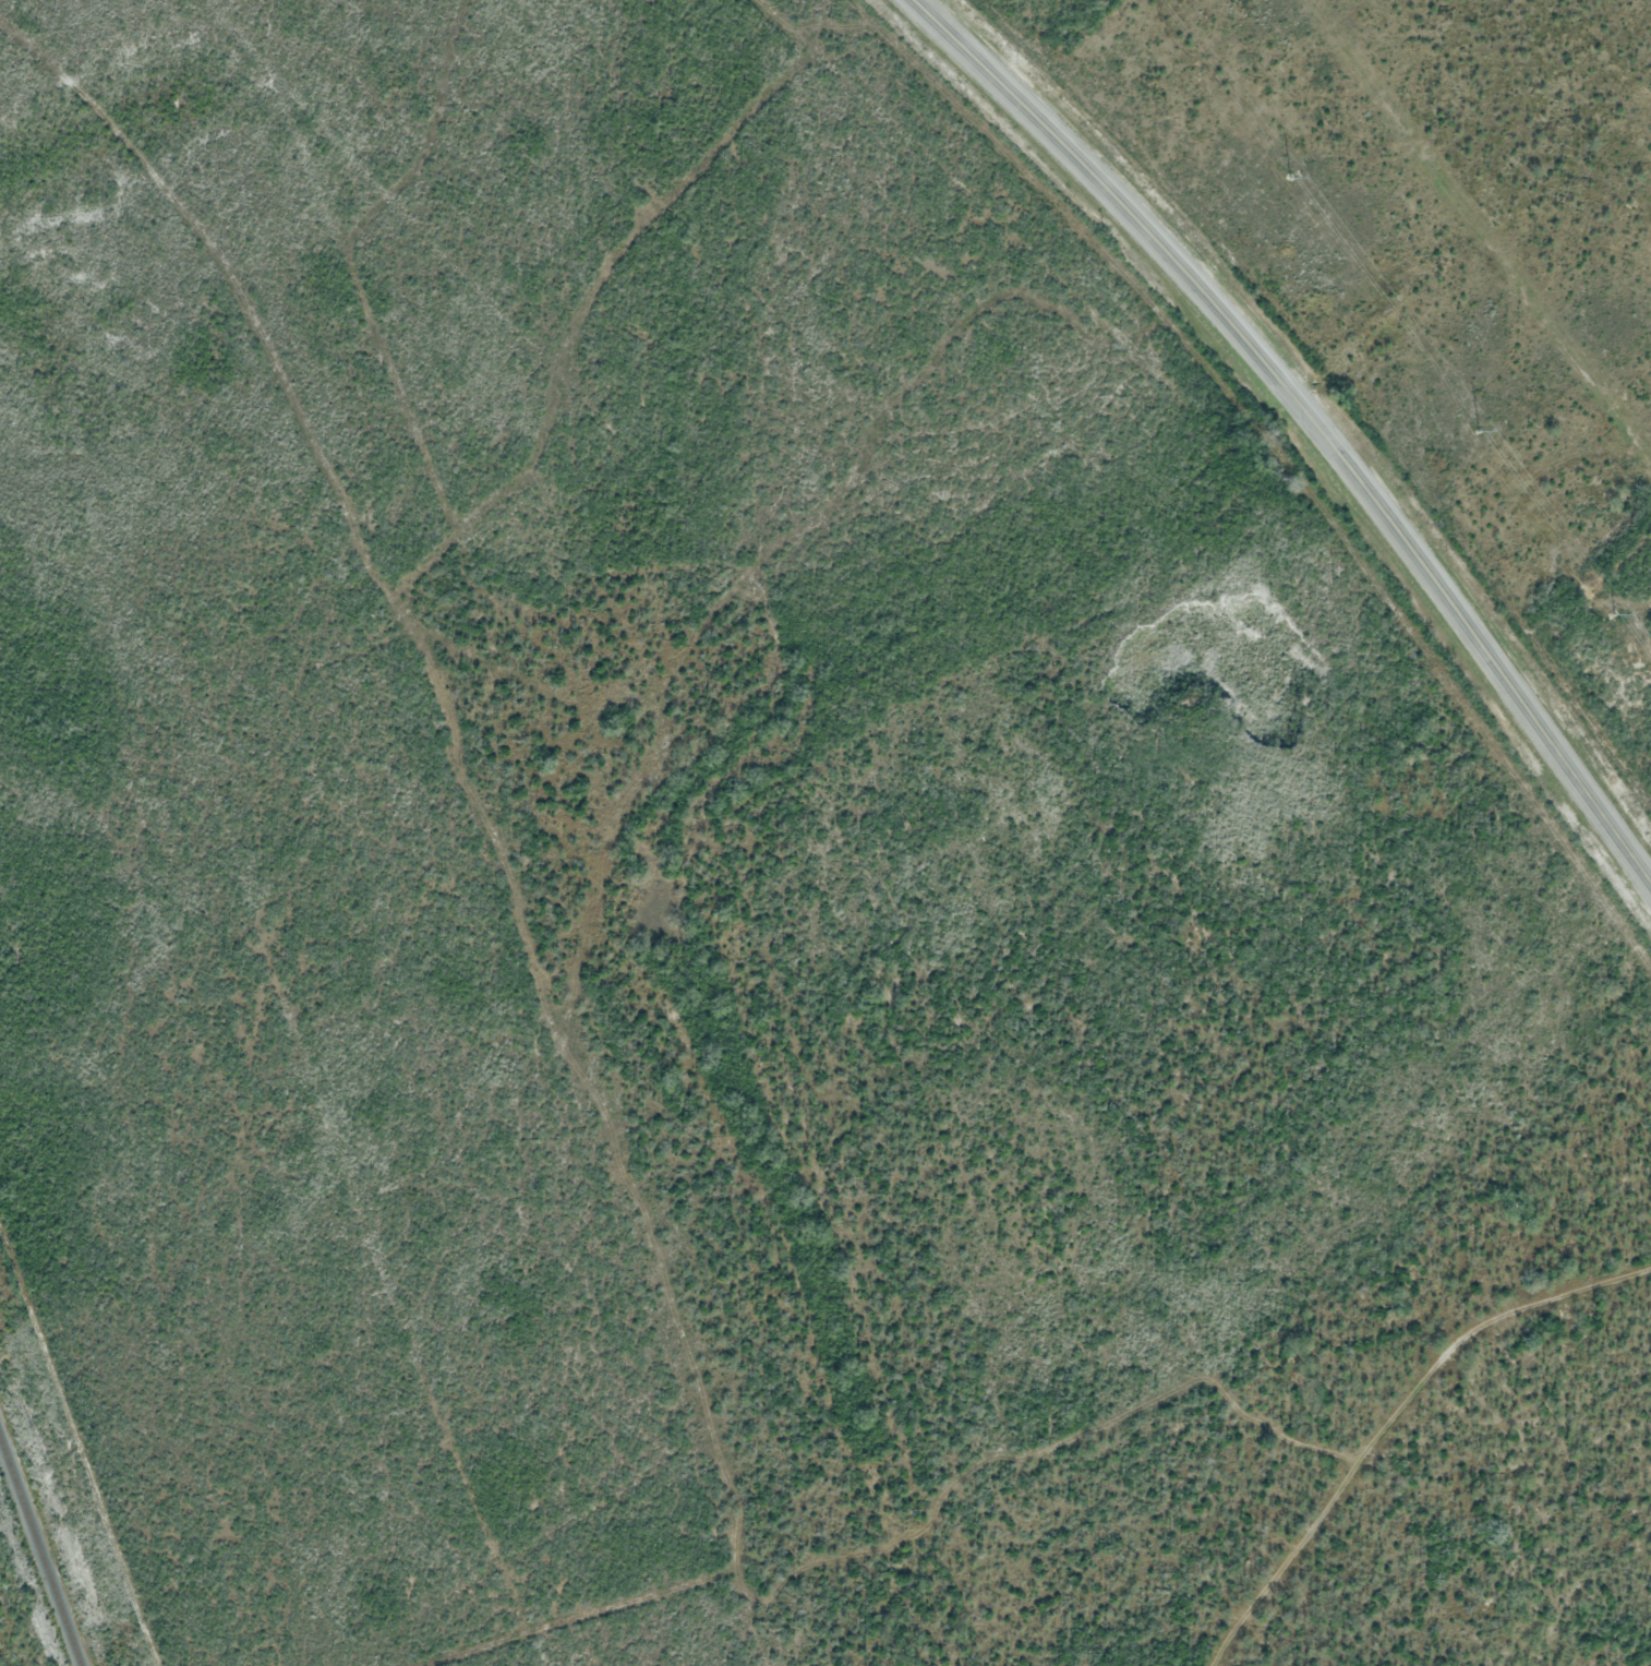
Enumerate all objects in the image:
power tower: (1289, 176)
road: (1310, 417)
power tower: (1479, 434)
power tower: (1612, 616)
railway: (40, 1550)

